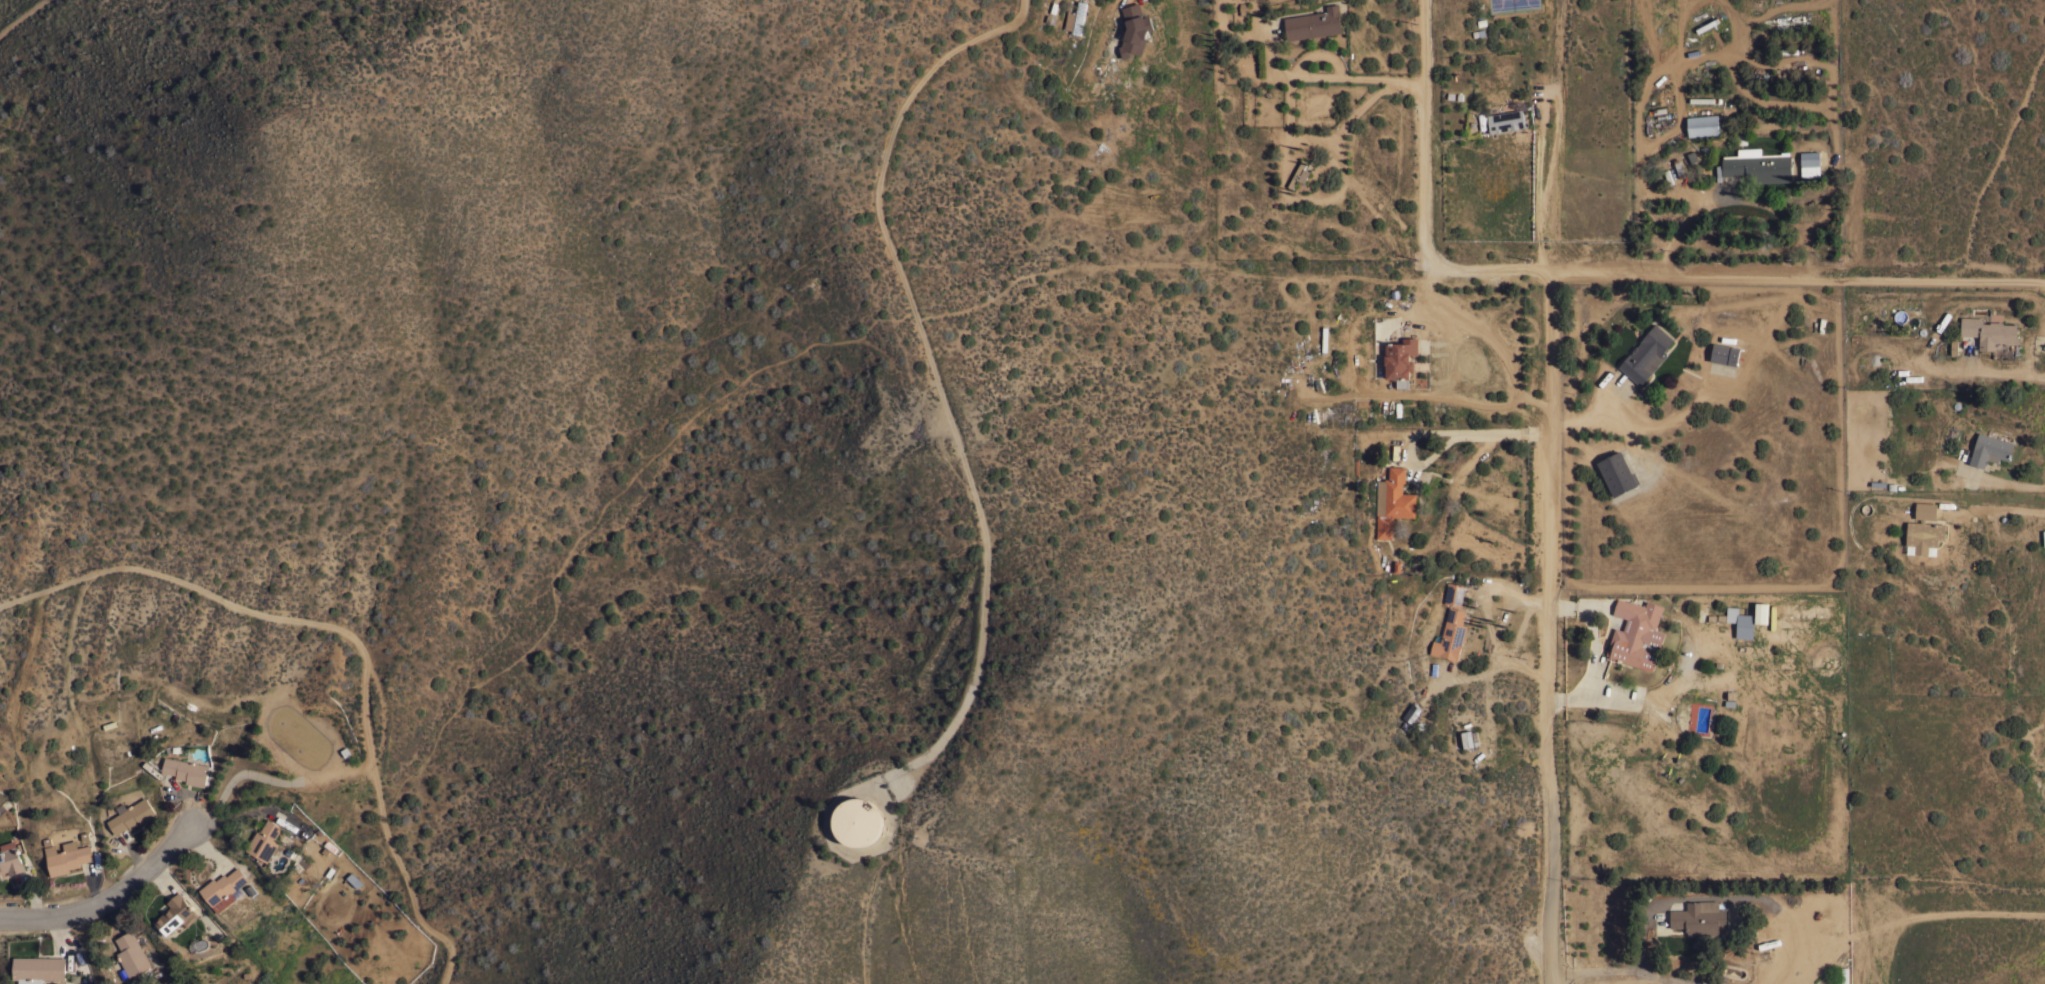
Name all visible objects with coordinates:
road: (23, 16)
building: (1079, 17)
building: (1069, 19)
building: (1313, 23)
building: (1706, 24)
building: (1134, 31)
road: (1424, 39)
road: (1323, 77)
building: (1505, 121)
building: (1702, 124)
building: (1809, 164)
building: (1757, 165)
building: (1298, 174)
road: (1704, 211)
road: (1421, 229)
road: (1796, 272)
building: (1987, 331)
road: (1469, 335)
building: (1724, 353)
building: (1646, 354)
building: (1400, 360)
road: (1479, 434)
building: (1989, 449)
road: (965, 462)
building: (1617, 473)
building: (1392, 501)
road: (1995, 509)
building: (1923, 530)
building: (1415, 563)
building: (1453, 593)
building: (1760, 612)
building: (1799, 615)
building: (1740, 621)
road: (1546, 626)
building: (1636, 633)
building: (1450, 635)
road: (349, 639)
building: (1411, 713)
building: (186, 770)
road: (272, 782)
building: (132, 815)
building: (857, 821)
building: (265, 841)
building: (10, 858)
building: (68, 859)
building: (353, 882)
building: (223, 888)
road: (109, 900)
building: (175, 913)
building: (1698, 917)
building: (132, 953)
building: (39, 969)
road: (1620, 970)
building: (1844, 975)

